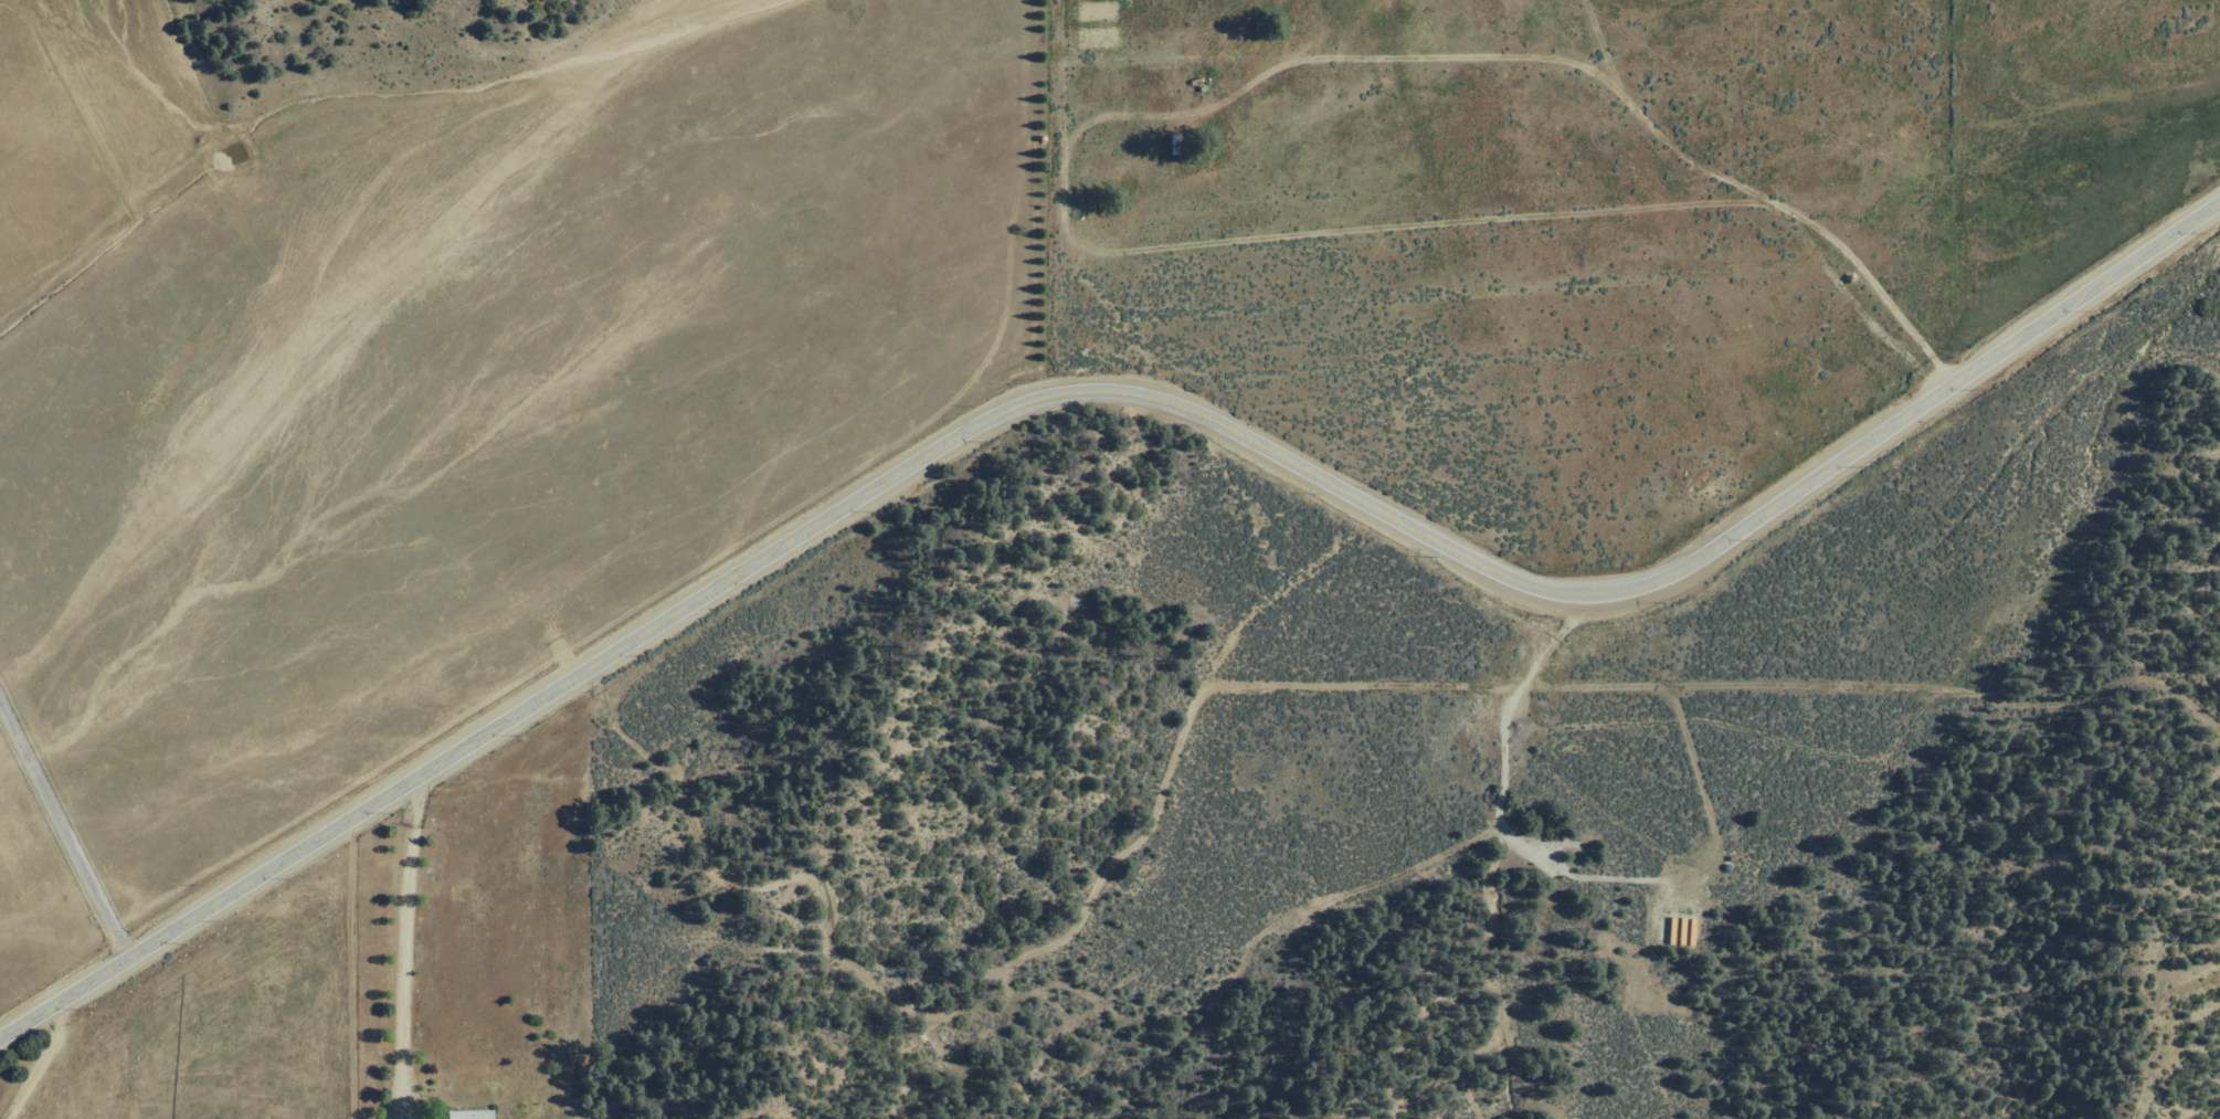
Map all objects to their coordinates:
road: (1569, 36)
road: (1091, 123)
road: (1901, 319)
road: (1099, 393)
road: (64, 833)
road: (403, 943)
road: (1004, 971)
road: (35, 1066)
building: (471, 1113)

